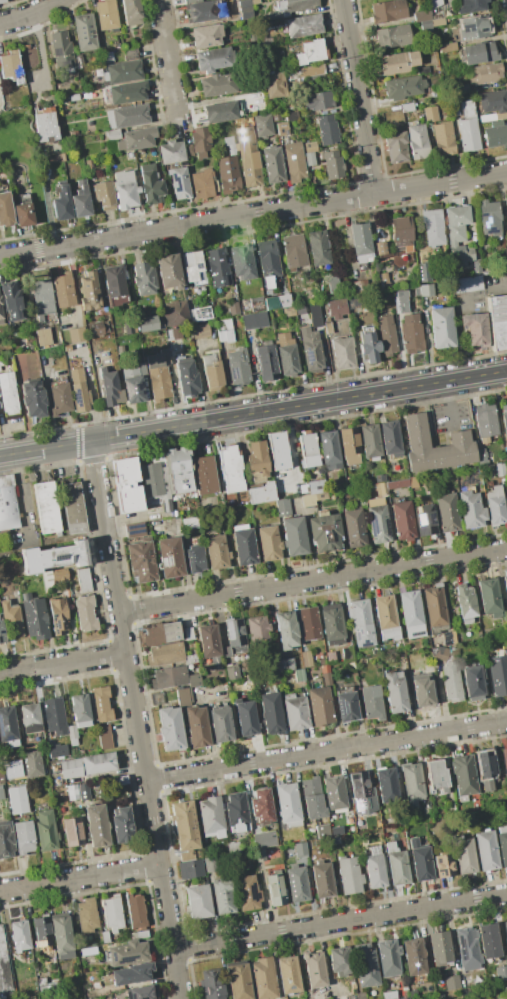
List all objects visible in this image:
building: (3, 1)
building: (255, 1)
building: (435, 3)
building: (295, 4)
building: (468, 6)
building: (205, 11)
building: (241, 11)
building: (387, 11)
building: (131, 12)
road: (28, 13)
building: (106, 15)
building: (273, 15)
building: (421, 16)
building: (437, 22)
building: (303, 25)
building: (425, 27)
building: (473, 27)
building: (84, 32)
building: (206, 36)
building: (393, 36)
road: (40, 47)
building: (446, 47)
building: (61, 51)
building: (130, 52)
building: (311, 52)
building: (477, 53)
building: (106, 57)
building: (214, 59)
building: (264, 59)
building: (78, 62)
road: (168, 62)
building: (397, 62)
building: (11, 67)
building: (427, 69)
building: (121, 72)
building: (310, 72)
building: (484, 74)
building: (218, 84)
building: (274, 85)
building: (404, 87)
building: (459, 89)
building: (125, 92)
building: (436, 94)
building: (78, 96)
building: (246, 97)
road: (358, 97)
building: (60, 98)
building: (318, 100)
building: (492, 101)
building: (406, 107)
building: (453, 107)
building: (221, 112)
building: (429, 114)
building: (127, 116)
building: (291, 116)
building: (492, 117)
building: (43, 124)
building: (262, 125)
building: (467, 127)
building: (282, 129)
building: (327, 130)
building: (112, 135)
building: (496, 135)
building: (136, 139)
building: (443, 139)
building: (200, 140)
building: (227, 141)
building: (417, 142)
building: (309, 147)
building: (395, 147)
building: (188, 150)
building: (170, 152)
building: (129, 156)
building: (247, 156)
park: (24, 158)
building: (309, 159)
building: (293, 161)
building: (332, 164)
building: (272, 165)
building: (228, 174)
building: (180, 183)
building: (203, 183)
building: (150, 185)
building: (125, 189)
building: (102, 194)
building: (80, 200)
building: (506, 200)
building: (61, 204)
road: (288, 207)
building: (5, 209)
building: (23, 215)
building: (489, 218)
building: (456, 223)
building: (433, 226)
building: (401, 234)
building: (360, 242)
building: (318, 248)
building: (378, 248)
road: (35, 251)
building: (293, 252)
building: (462, 254)
building: (422, 257)
building: (268, 259)
building: (242, 261)
building: (217, 267)
building: (193, 268)
building: (477, 268)
building: (168, 272)
building: (384, 277)
building: (144, 278)
building: (267, 282)
building: (467, 284)
building: (113, 285)
building: (334, 285)
road: (497, 286)
building: (360, 287)
building: (63, 290)
building: (425, 290)
building: (89, 291)
building: (42, 298)
building: (11, 300)
building: (0, 301)
building: (275, 302)
building: (256, 304)
building: (400, 304)
building: (336, 308)
building: (233, 309)
building: (289, 311)
building: (175, 313)
building: (199, 314)
building: (317, 316)
building: (1, 317)
building: (497, 319)
building: (254, 320)
building: (149, 324)
building: (328, 326)
building: (442, 327)
building: (98, 329)
building: (475, 329)
building: (128, 330)
building: (223, 330)
building: (199, 331)
building: (411, 333)
building: (76, 335)
building: (386, 335)
building: (43, 337)
road: (458, 338)
building: (369, 347)
building: (311, 350)
building: (343, 353)
building: (286, 355)
building: (2, 360)
building: (72, 362)
building: (266, 362)
building: (237, 367)
building: (212, 371)
building: (158, 374)
building: (187, 378)
building: (133, 383)
building: (110, 387)
building: (79, 391)
building: (8, 394)
building: (58, 398)
building: (32, 399)
road: (22, 403)
road: (448, 403)
road: (298, 405)
building: (504, 418)
building: (485, 422)
building: (390, 438)
building: (370, 441)
building: (460, 443)
building: (350, 445)
road: (44, 448)
building: (277, 450)
building: (308, 450)
building: (329, 450)
building: (481, 456)
building: (256, 461)
building: (178, 469)
building: (230, 469)
building: (500, 469)
building: (204, 475)
building: (379, 478)
building: (152, 480)
building: (412, 481)
building: (396, 484)
building: (127, 485)
building: (317, 487)
building: (378, 488)
building: (262, 493)
road: (20, 496)
building: (312, 499)
building: (7, 505)
building: (494, 506)
building: (46, 507)
building: (281, 507)
building: (72, 508)
building: (470, 510)
building: (447, 512)
building: (378, 520)
building: (425, 520)
building: (402, 521)
building: (133, 526)
building: (353, 528)
building: (325, 532)
building: (293, 536)
building: (268, 543)
building: (243, 544)
building: (216, 552)
building: (56, 556)
building: (169, 557)
building: (195, 558)
building: (141, 562)
building: (59, 575)
building: (83, 580)
road: (312, 581)
building: (505, 584)
building: (490, 597)
building: (466, 603)
building: (434, 606)
building: (85, 613)
building: (411, 613)
building: (58, 616)
building: (386, 617)
building: (35, 618)
building: (11, 620)
building: (361, 623)
building: (309, 624)
building: (332, 624)
building: (506, 627)
building: (285, 629)
building: (1, 632)
building: (161, 633)
building: (257, 633)
building: (188, 634)
building: (233, 636)
building: (208, 641)
building: (439, 653)
building: (347, 654)
building: (167, 655)
building: (330, 657)
building: (305, 659)
building: (321, 662)
road: (62, 664)
building: (285, 665)
building: (324, 669)
building: (232, 673)
building: (498, 674)
building: (298, 675)
building: (173, 678)
building: (451, 682)
building: (473, 682)
building: (422, 689)
building: (394, 692)
building: (182, 696)
building: (371, 702)
building: (100, 704)
building: (319, 704)
building: (346, 706)
building: (295, 712)
building: (270, 713)
building: (52, 715)
building: (77, 716)
building: (30, 717)
building: (245, 718)
road: (135, 719)
road: (207, 722)
building: (8, 724)
building: (221, 724)
building: (196, 726)
building: (170, 728)
building: (104, 735)
building: (74, 751)
road: (326, 751)
building: (504, 762)
building: (32, 764)
building: (87, 765)
building: (484, 769)
building: (8, 776)
building: (463, 776)
building: (1, 777)
building: (436, 777)
building: (358, 785)
building: (412, 785)
building: (386, 786)
building: (72, 792)
building: (334, 794)
building: (312, 799)
building: (17, 800)
building: (287, 804)
building: (464, 807)
building: (260, 808)
building: (236, 812)
building: (431, 813)
building: (210, 817)
building: (120, 823)
building: (96, 825)
building: (184, 826)
building: (45, 830)
building: (71, 831)
building: (323, 831)
building: (23, 837)
building: (263, 839)
building: (6, 840)
building: (502, 843)
building: (300, 850)
building: (486, 850)
building: (260, 854)
building: (464, 854)
building: (420, 860)
building: (396, 864)
building: (443, 865)
building: (374, 868)
building: (190, 869)
building: (348, 875)
road: (80, 877)
building: (323, 880)
building: (297, 884)
building: (276, 890)
building: (248, 894)
building: (115, 895)
building: (223, 897)
building: (197, 901)
building: (135, 912)
building: (112, 914)
building: (87, 916)
road: (339, 921)
building: (505, 931)
building: (42, 932)
building: (140, 933)
building: (19, 936)
building: (105, 937)
building: (62, 938)
building: (488, 941)
building: (468, 948)
building: (439, 950)
building: (125, 953)
building: (387, 958)
building: (414, 958)
road: (325, 959)
building: (339, 961)
building: (4, 966)
building: (365, 966)
building: (315, 970)
building: (500, 973)
building: (131, 974)
building: (289, 976)
building: (263, 978)
building: (238, 981)
building: (451, 982)
building: (46, 984)
building: (95, 985)
building: (211, 985)
building: (141, 992)
building: (360, 995)
building: (389, 995)
building: (440, 995)
building: (403, 998)

